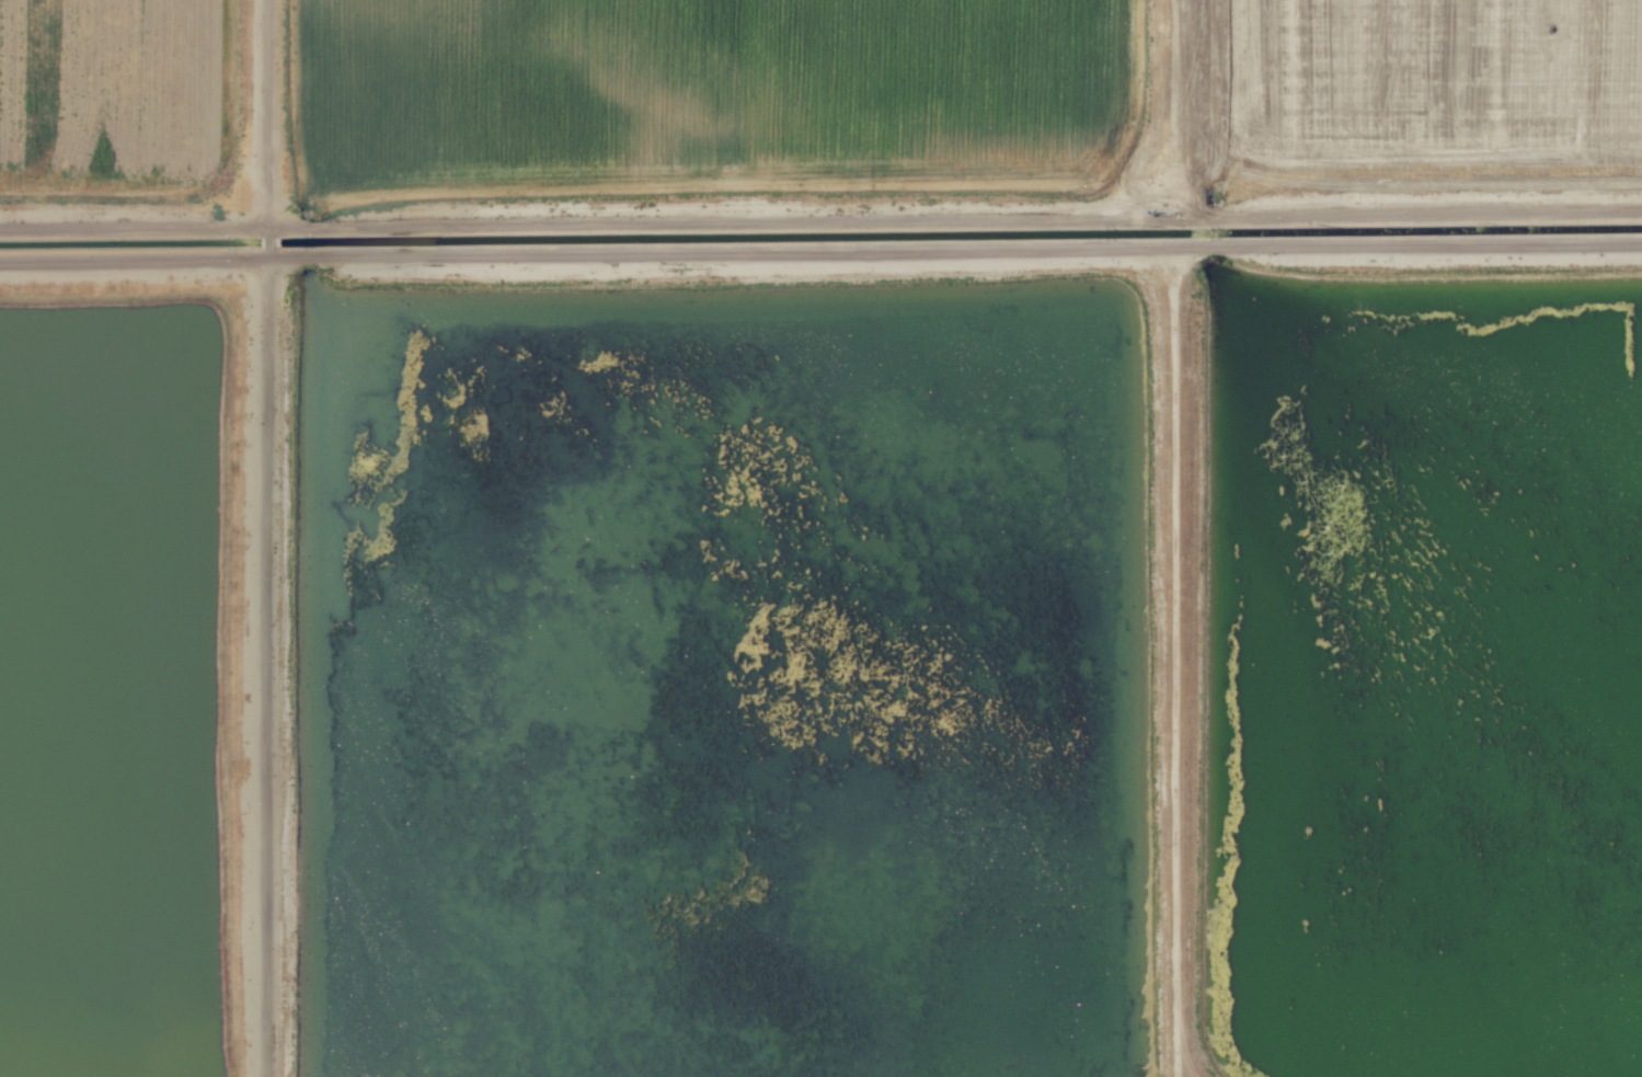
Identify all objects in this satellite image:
wastewater plant: (1434, 82)
wastewater plant: (711, 85)
wastewater plant: (107, 88)
road: (1170, 99)
road: (1169, 197)
road: (820, 221)
road: (820, 251)
road: (265, 538)
wastewater plant: (820, 538)
road: (1174, 662)
wastewater plant: (1429, 678)
wastewater plant: (725, 684)
wastewater plant: (107, 687)

